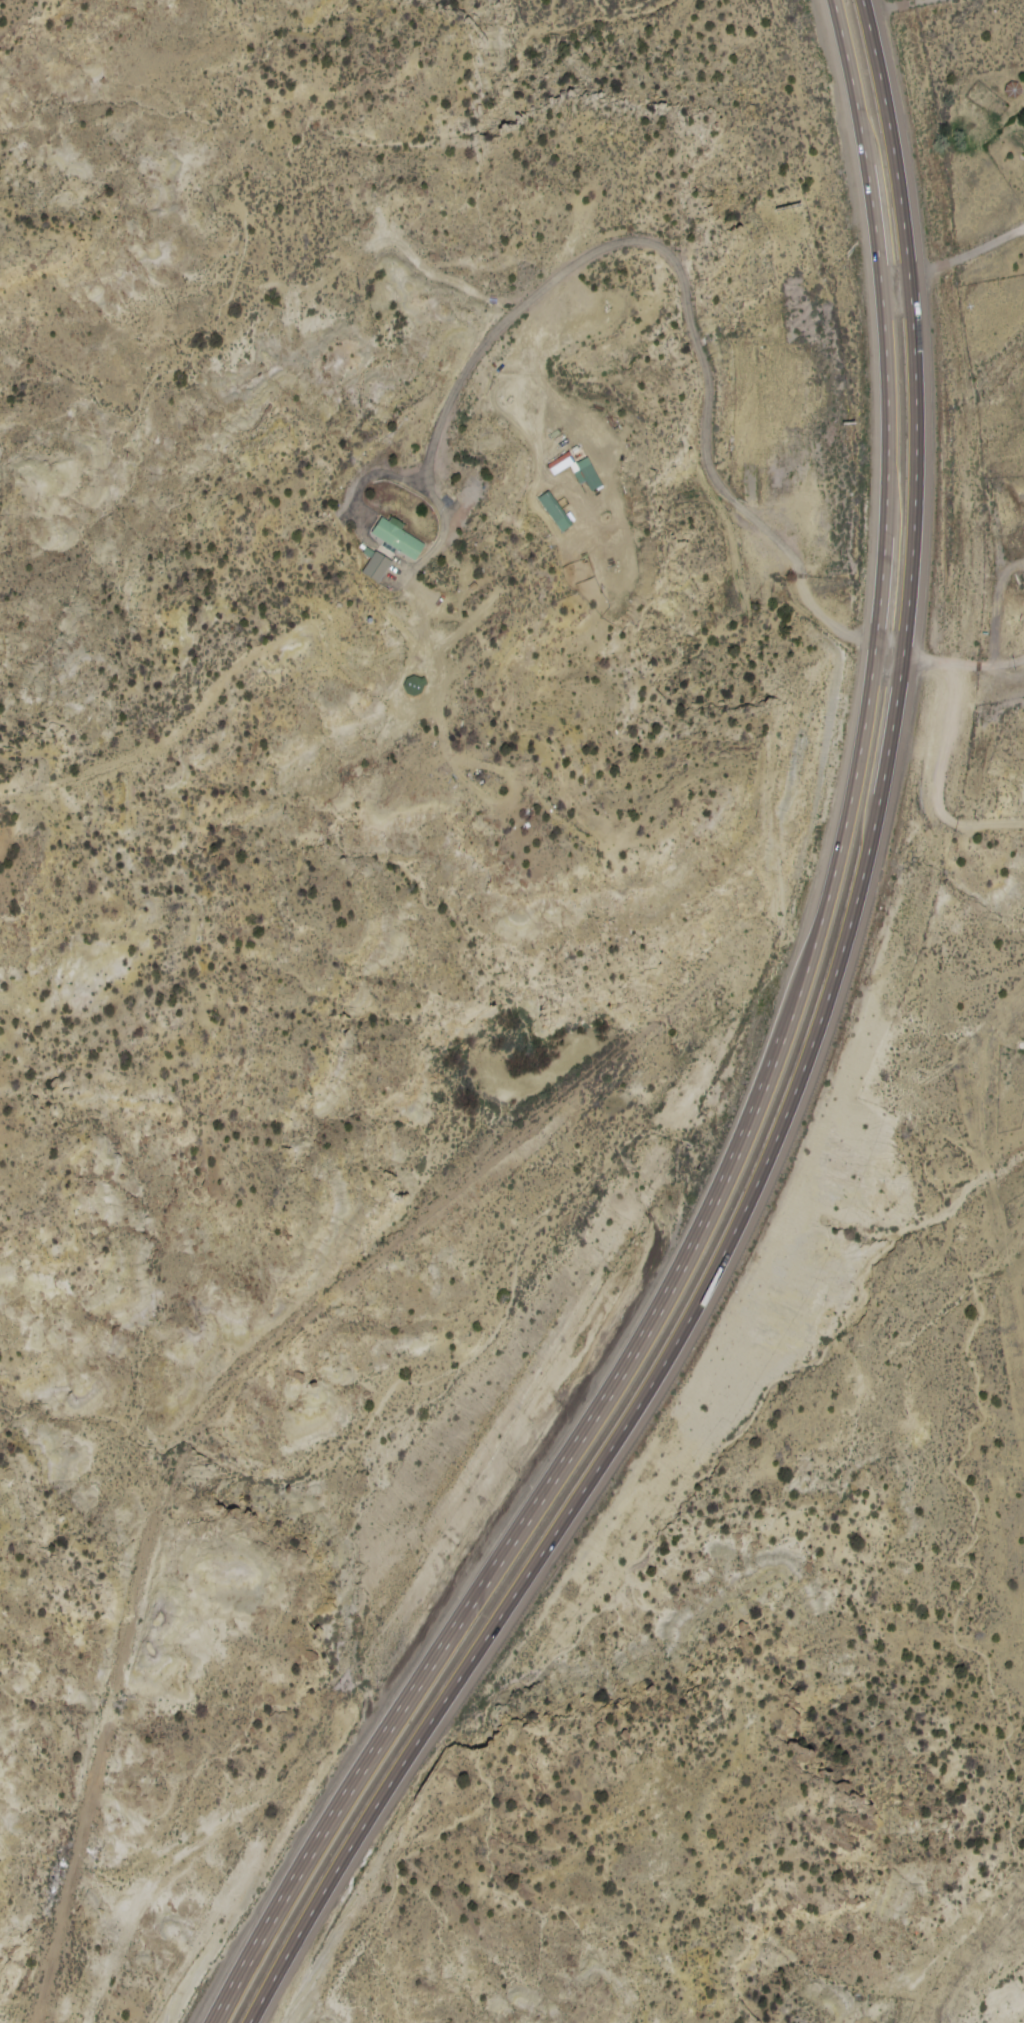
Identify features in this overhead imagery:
road: (482, 345)
building: (560, 463)
building: (590, 476)
building: (554, 511)
building: (395, 537)
building: (377, 566)
road: (772, 1078)
road: (804, 1078)

